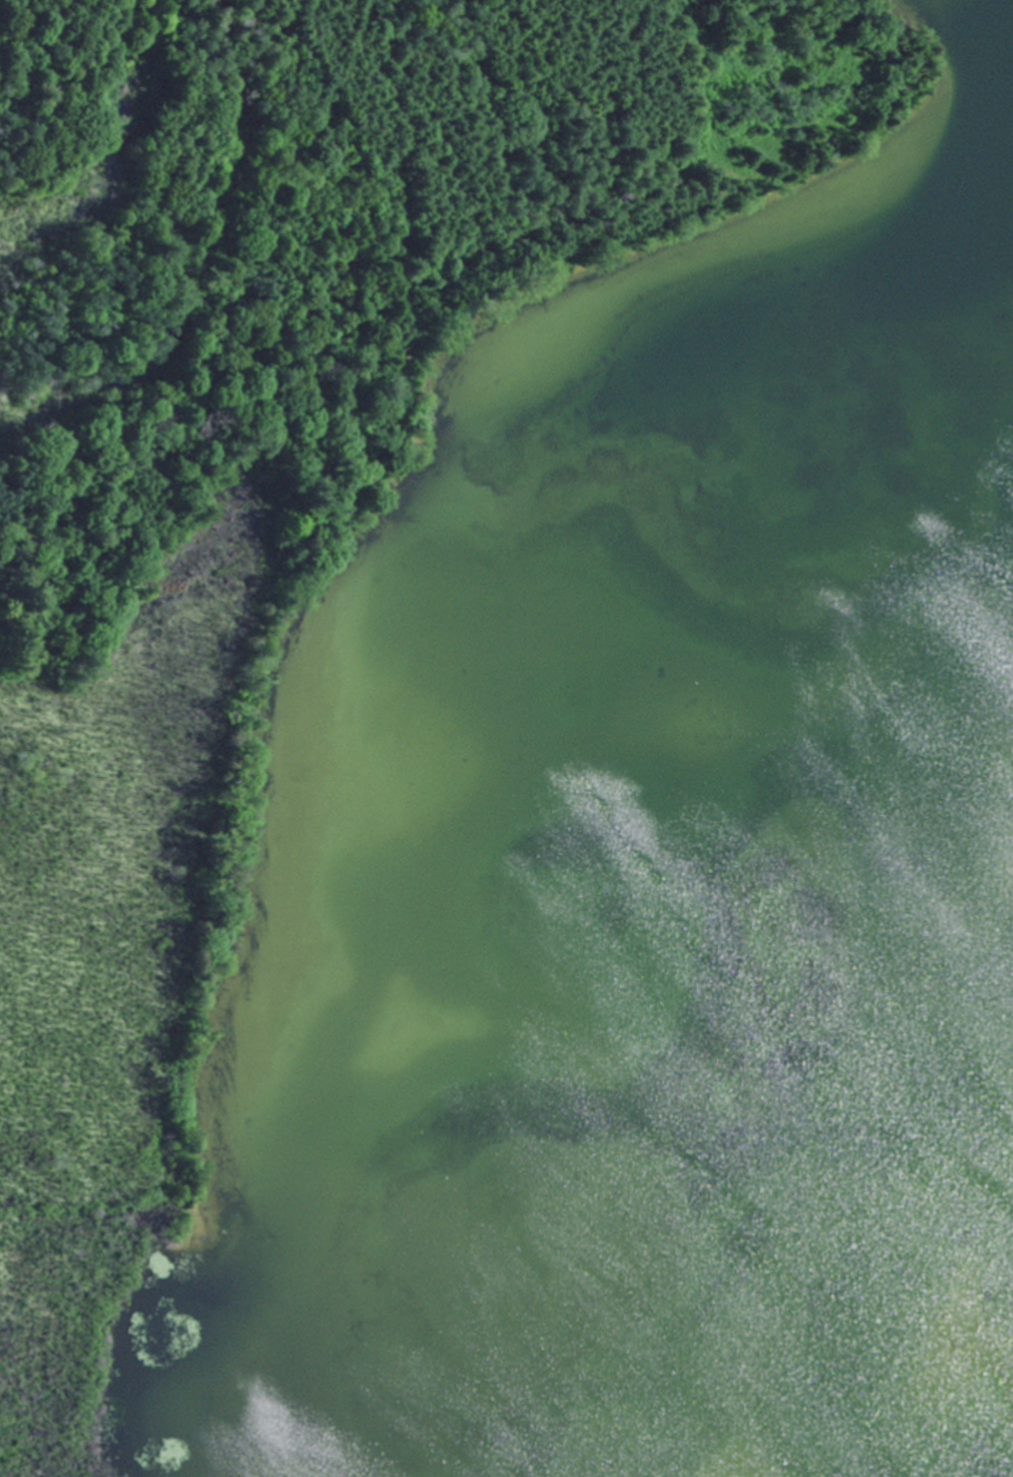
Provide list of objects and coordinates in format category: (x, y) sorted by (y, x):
road: (601, 103)

